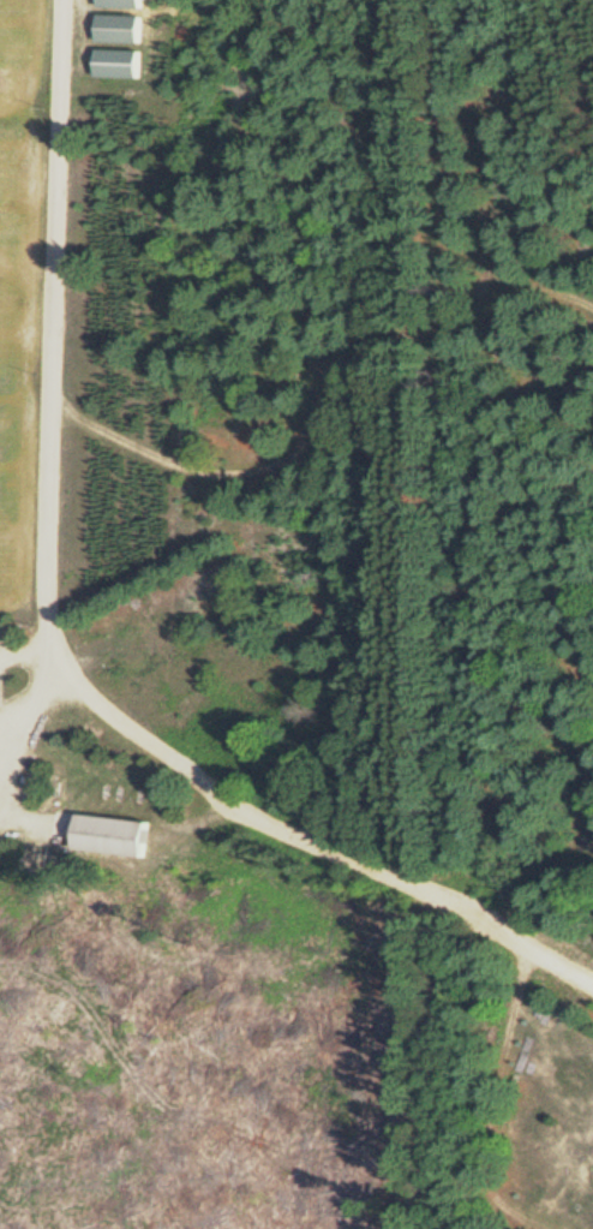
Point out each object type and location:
building: (120, 4)
building: (118, 29)
building: (116, 64)
building: (501, 351)
road: (54, 644)
building: (110, 836)
road: (198, 925)

